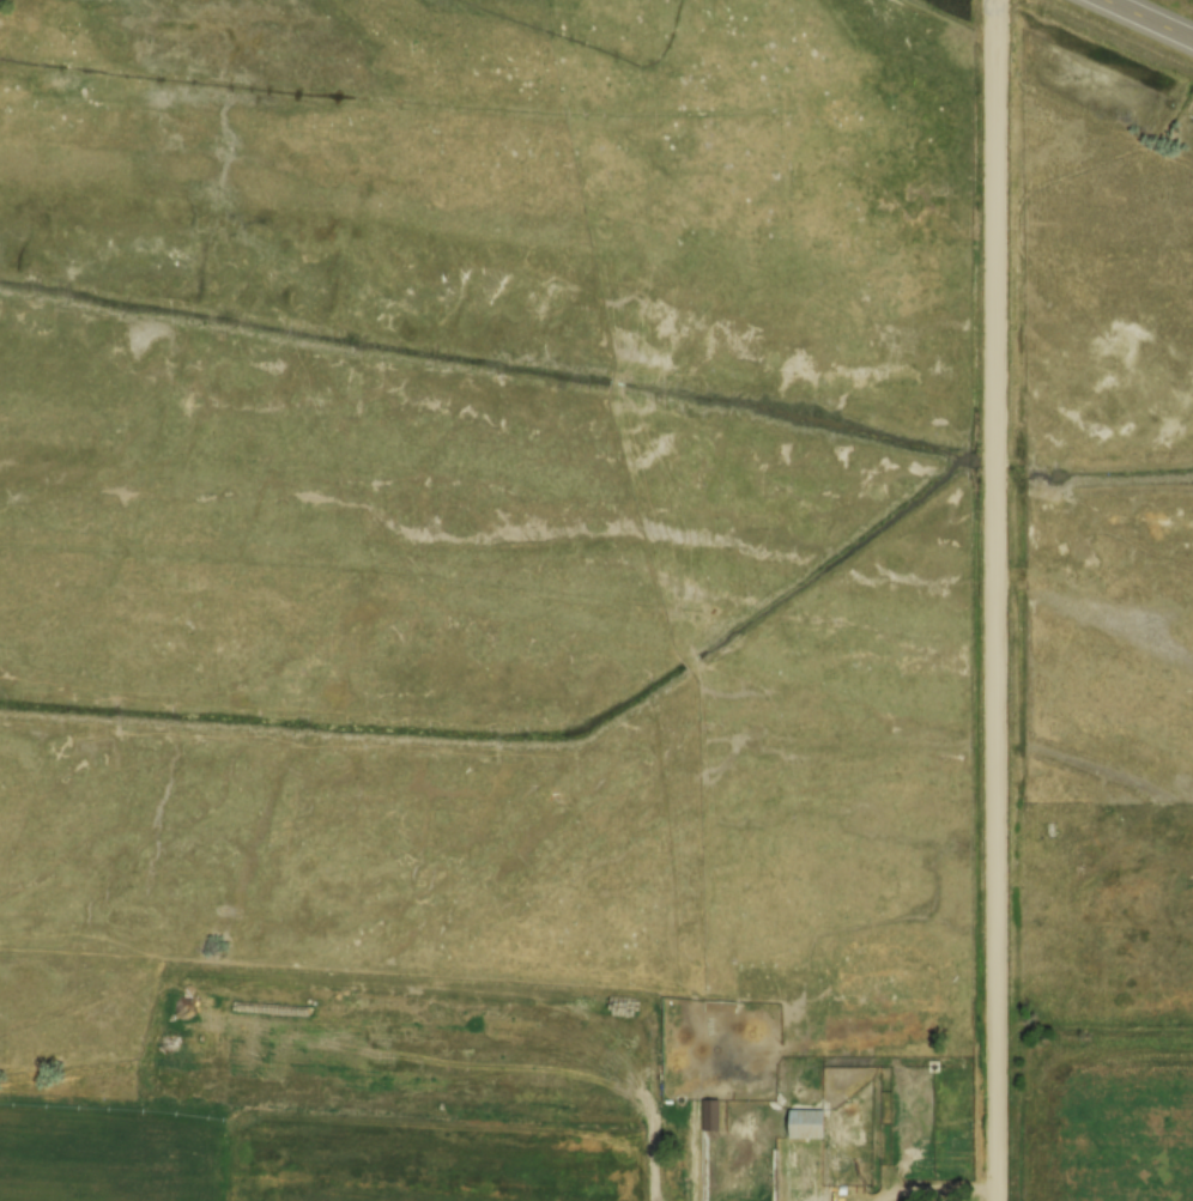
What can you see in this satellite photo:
road: (1150, 19)
road: (998, 600)
building: (713, 1114)
building: (804, 1122)

